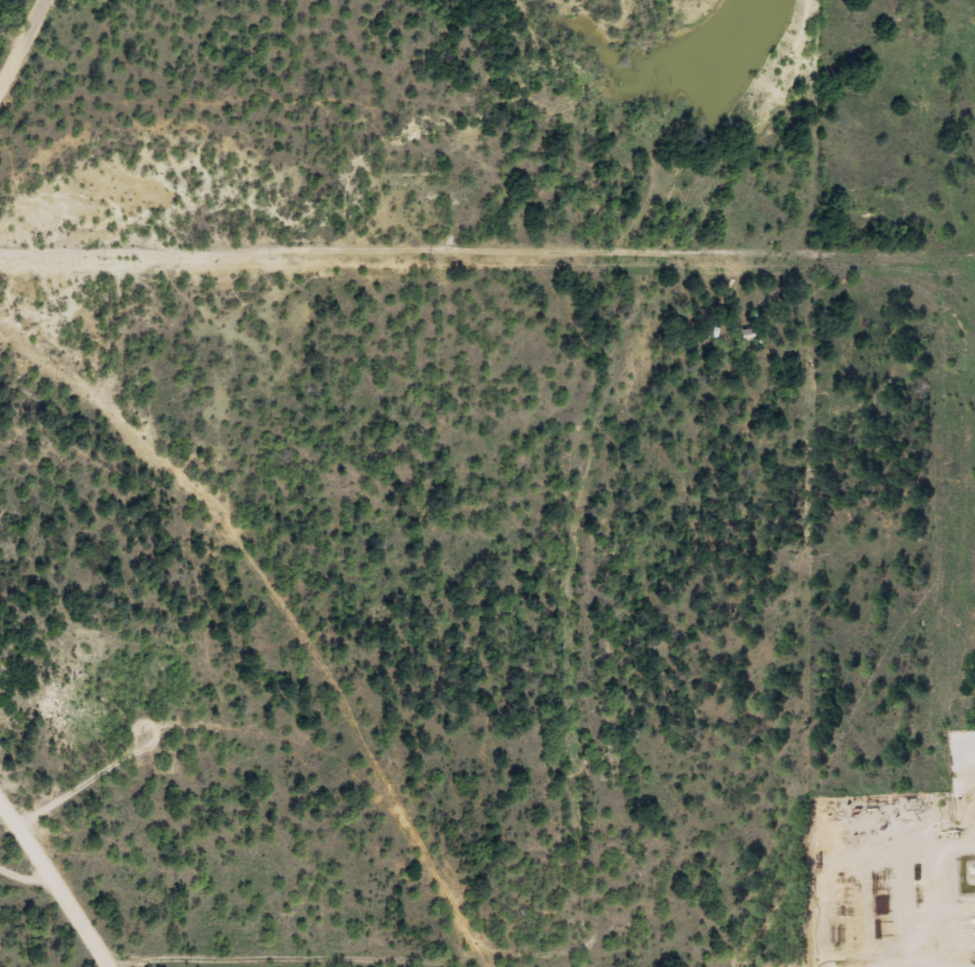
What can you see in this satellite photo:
road: (41, 83)
building: (743, 335)
railway: (616, 456)
road: (32, 856)
road: (65, 864)

